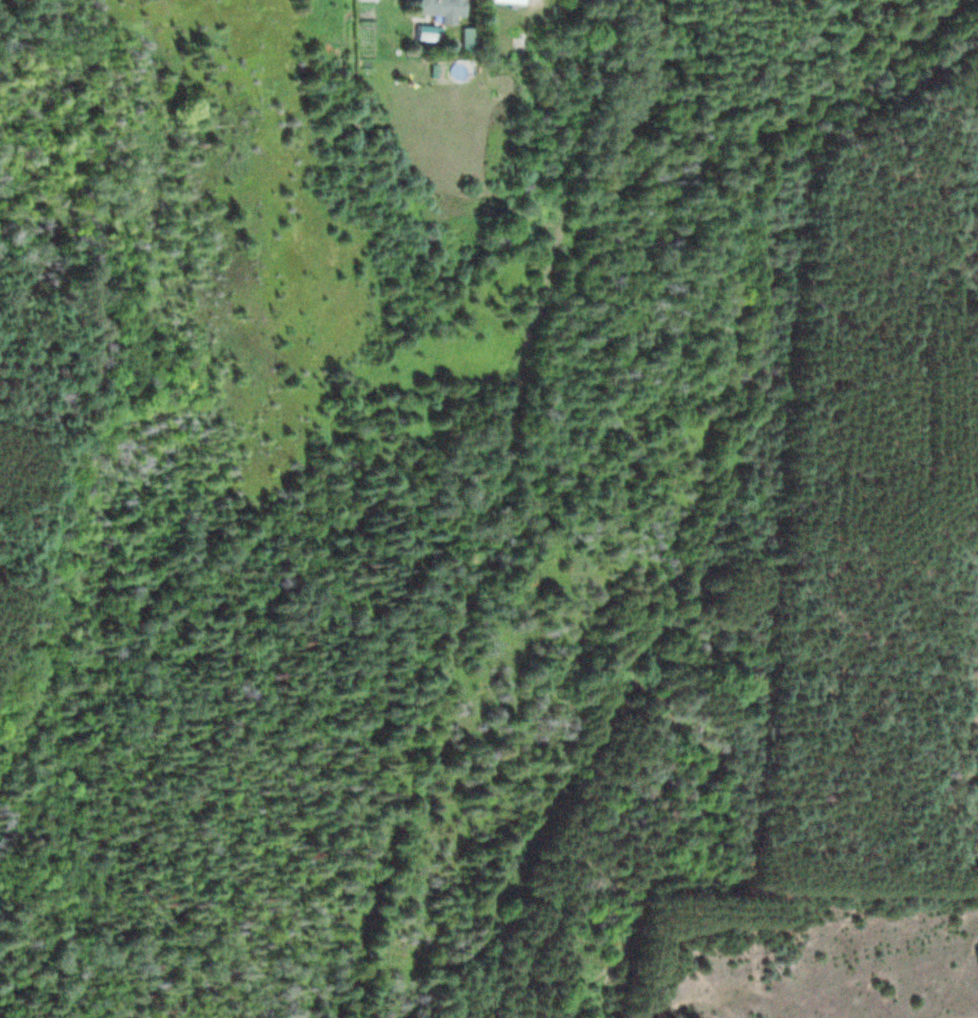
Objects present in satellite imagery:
building: (498, 1)
building: (582, 1)
building: (435, 9)

